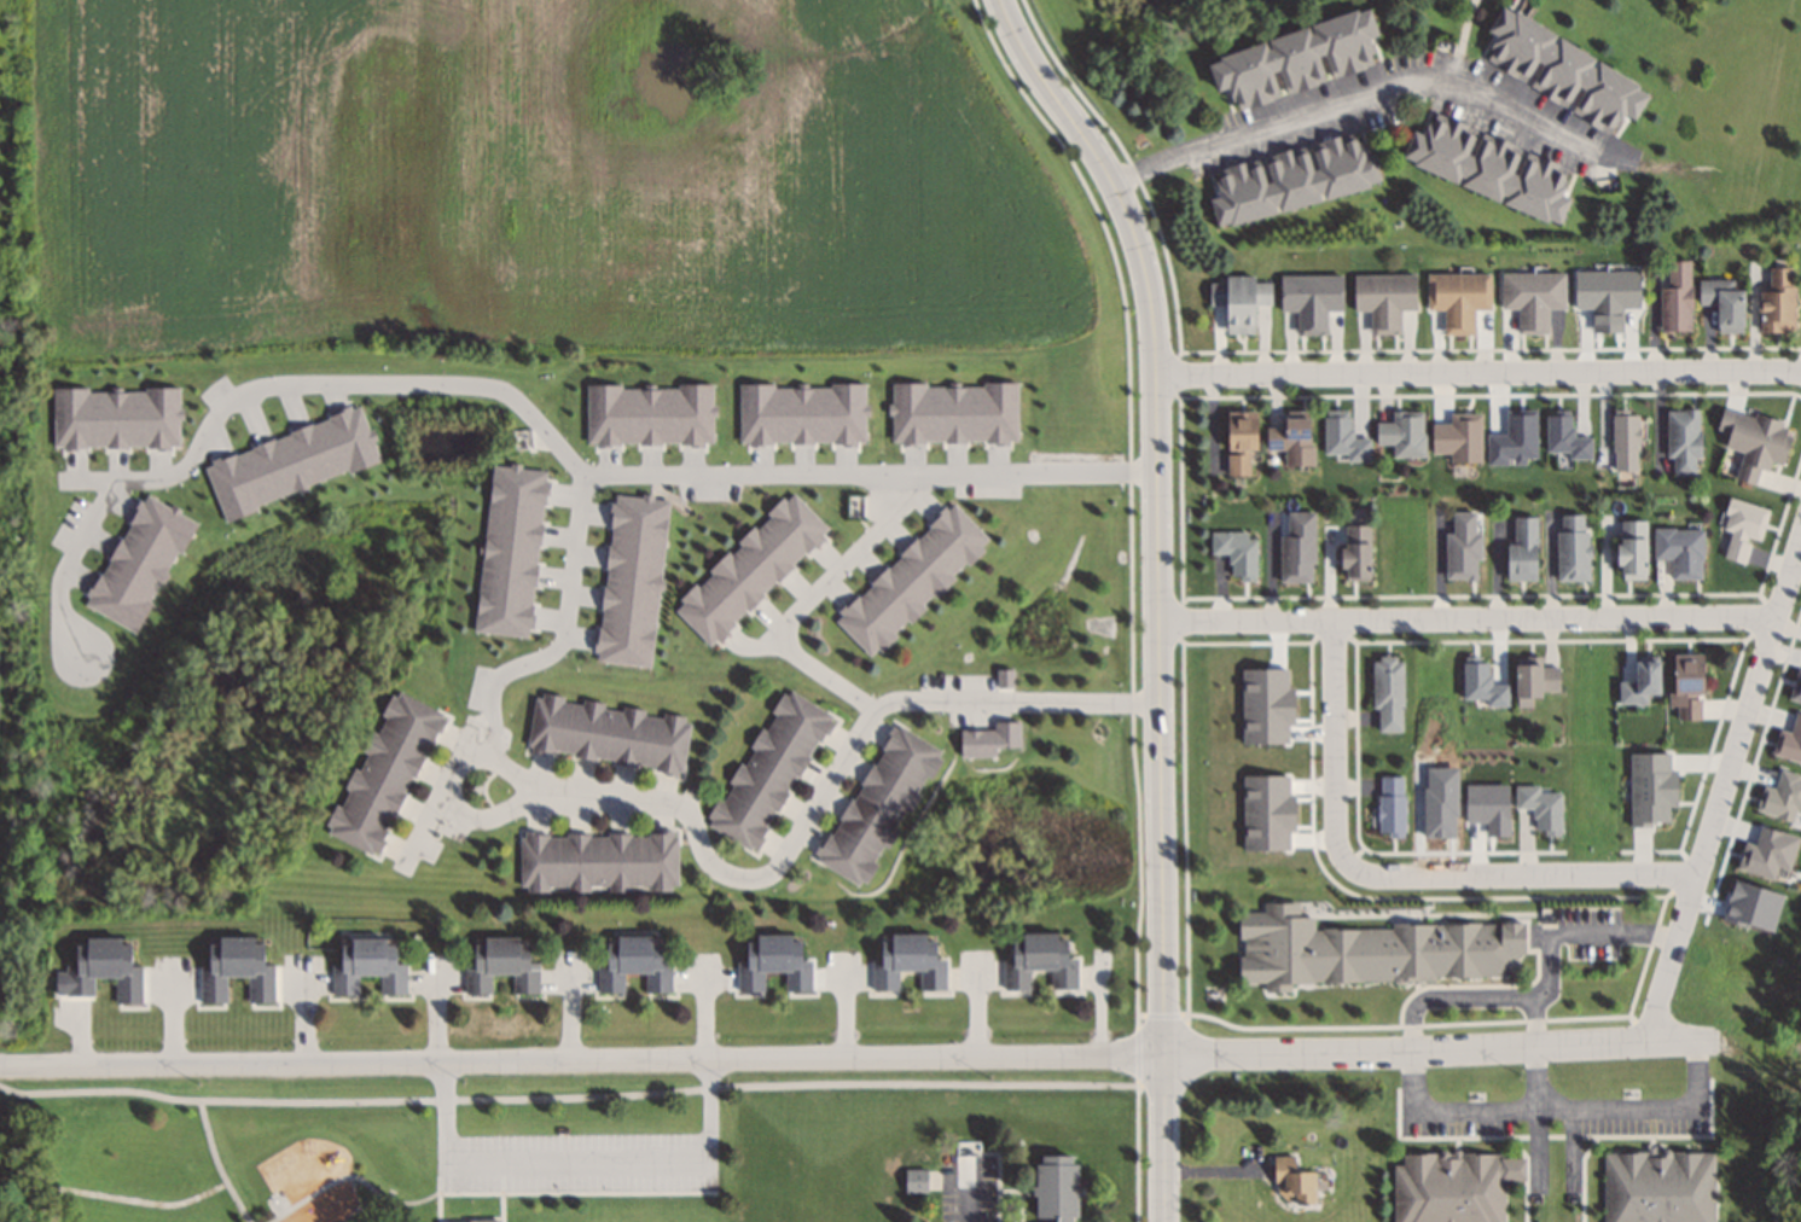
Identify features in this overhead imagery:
building: (1292, 59)
building: (1558, 71)
road: (1363, 94)
building: (1487, 167)
building: (1291, 179)
crop: (545, 180)
building: (1530, 297)
building: (1674, 297)
building: (1383, 298)
building: (1457, 298)
building: (1309, 299)
building: (1777, 301)
building: (1238, 302)
building: (1721, 303)
road: (1480, 367)
building: (1238, 430)
building: (1401, 433)
building: (1290, 440)
building: (1681, 440)
building: (1751, 442)
building: (1230, 461)
road: (711, 471)
building: (1296, 546)
building: (1460, 546)
building: (1571, 547)
building: (1631, 549)
building: (1521, 551)
building: (1679, 551)
building: (1355, 552)
building: (749, 568)
building: (910, 580)
road: (814, 590)
road: (1162, 594)
road: (1466, 621)
building: (1639, 682)
building: (1532, 683)
building: (1685, 686)
building: (1795, 688)
building: (1387, 693)
building: (606, 734)
building: (975, 744)
building: (767, 769)
road: (451, 772)
building: (383, 773)
road: (1719, 782)
building: (876, 805)
road: (796, 834)
building: (597, 861)
road: (1393, 875)
building: (1367, 950)
building: (1039, 960)
building: (632, 961)
building: (906, 961)
building: (772, 962)
building: (499, 965)
building: (368, 966)
building: (234, 967)
building: (99, 968)
park: (1789, 1035)
road: (858, 1059)
road: (1539, 1077)
road: (588, 1093)
road: (1558, 1107)
park: (370, 1147)
building: (913, 1181)
building: (1290, 1182)
building: (1452, 1186)
building: (1656, 1187)
building: (1053, 1188)
road: (969, 1193)
building: (467, 1221)

